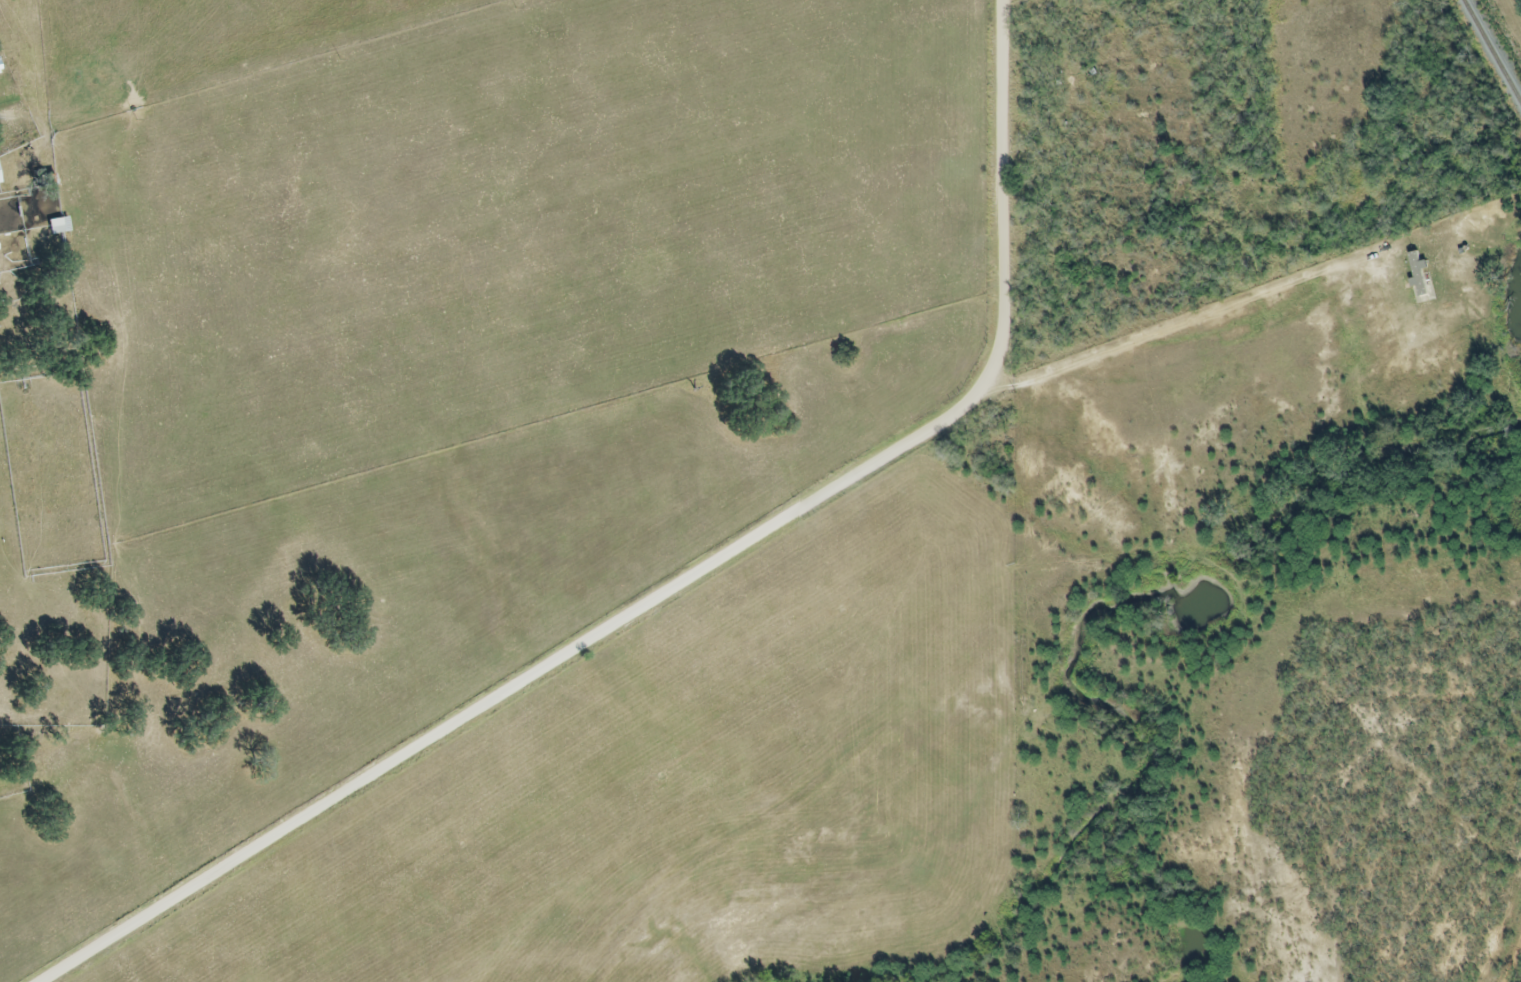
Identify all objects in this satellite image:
railway: (1489, 59)
building: (57, 227)
building: (1418, 286)
road: (1196, 317)
road: (683, 582)

